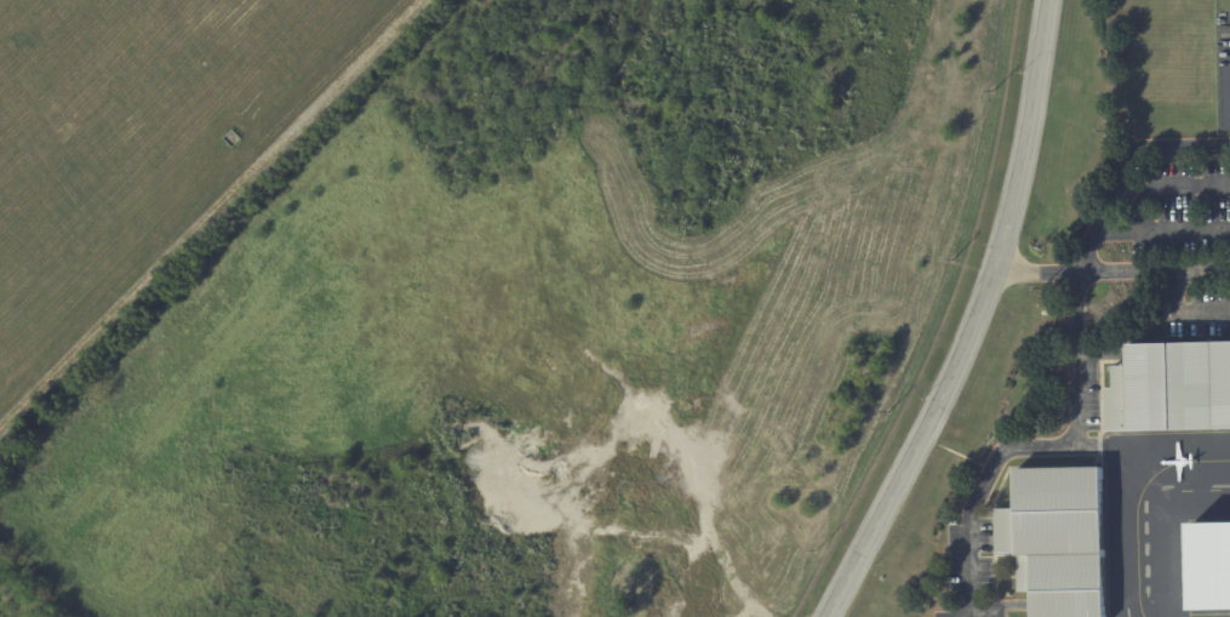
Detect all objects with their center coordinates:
road: (1127, 171)
road: (1175, 183)
road: (1163, 234)
parking lot: (1185, 240)
road: (1154, 270)
road: (1035, 273)
airport: (614, 308)
road: (1178, 315)
road: (973, 322)
building: (1166, 387)
road: (1040, 450)
building: (1053, 537)
airport hangar: (1208, 566)
building: (1208, 566)

